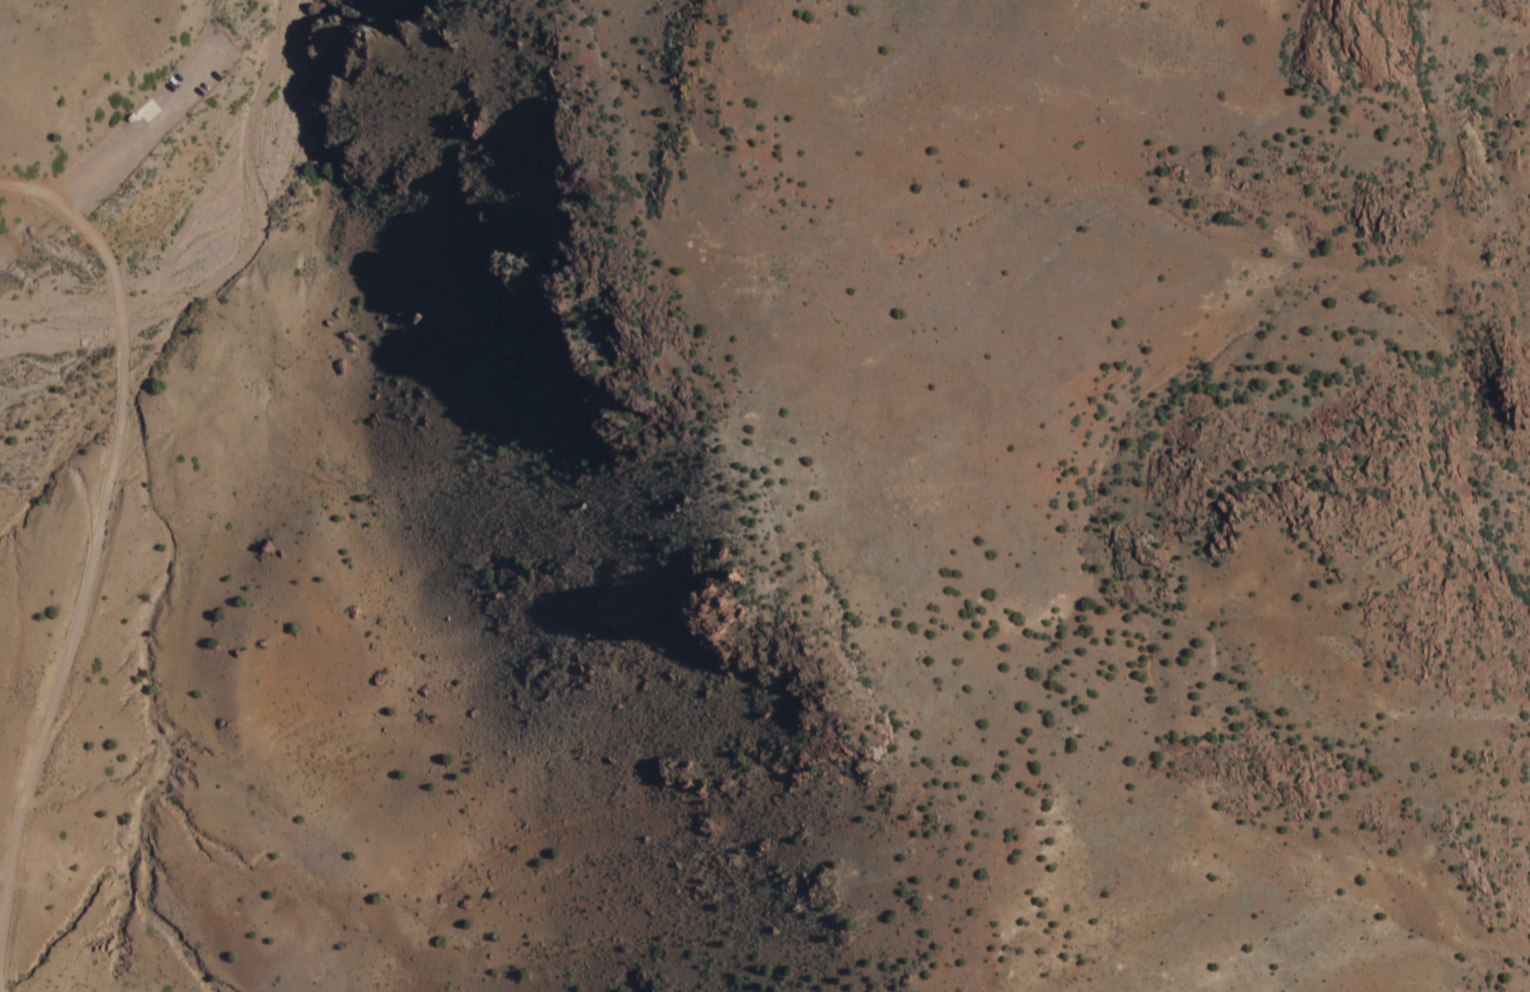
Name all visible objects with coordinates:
parking lot: (159, 121)
road: (158, 125)
road: (36, 192)
road: (94, 591)

